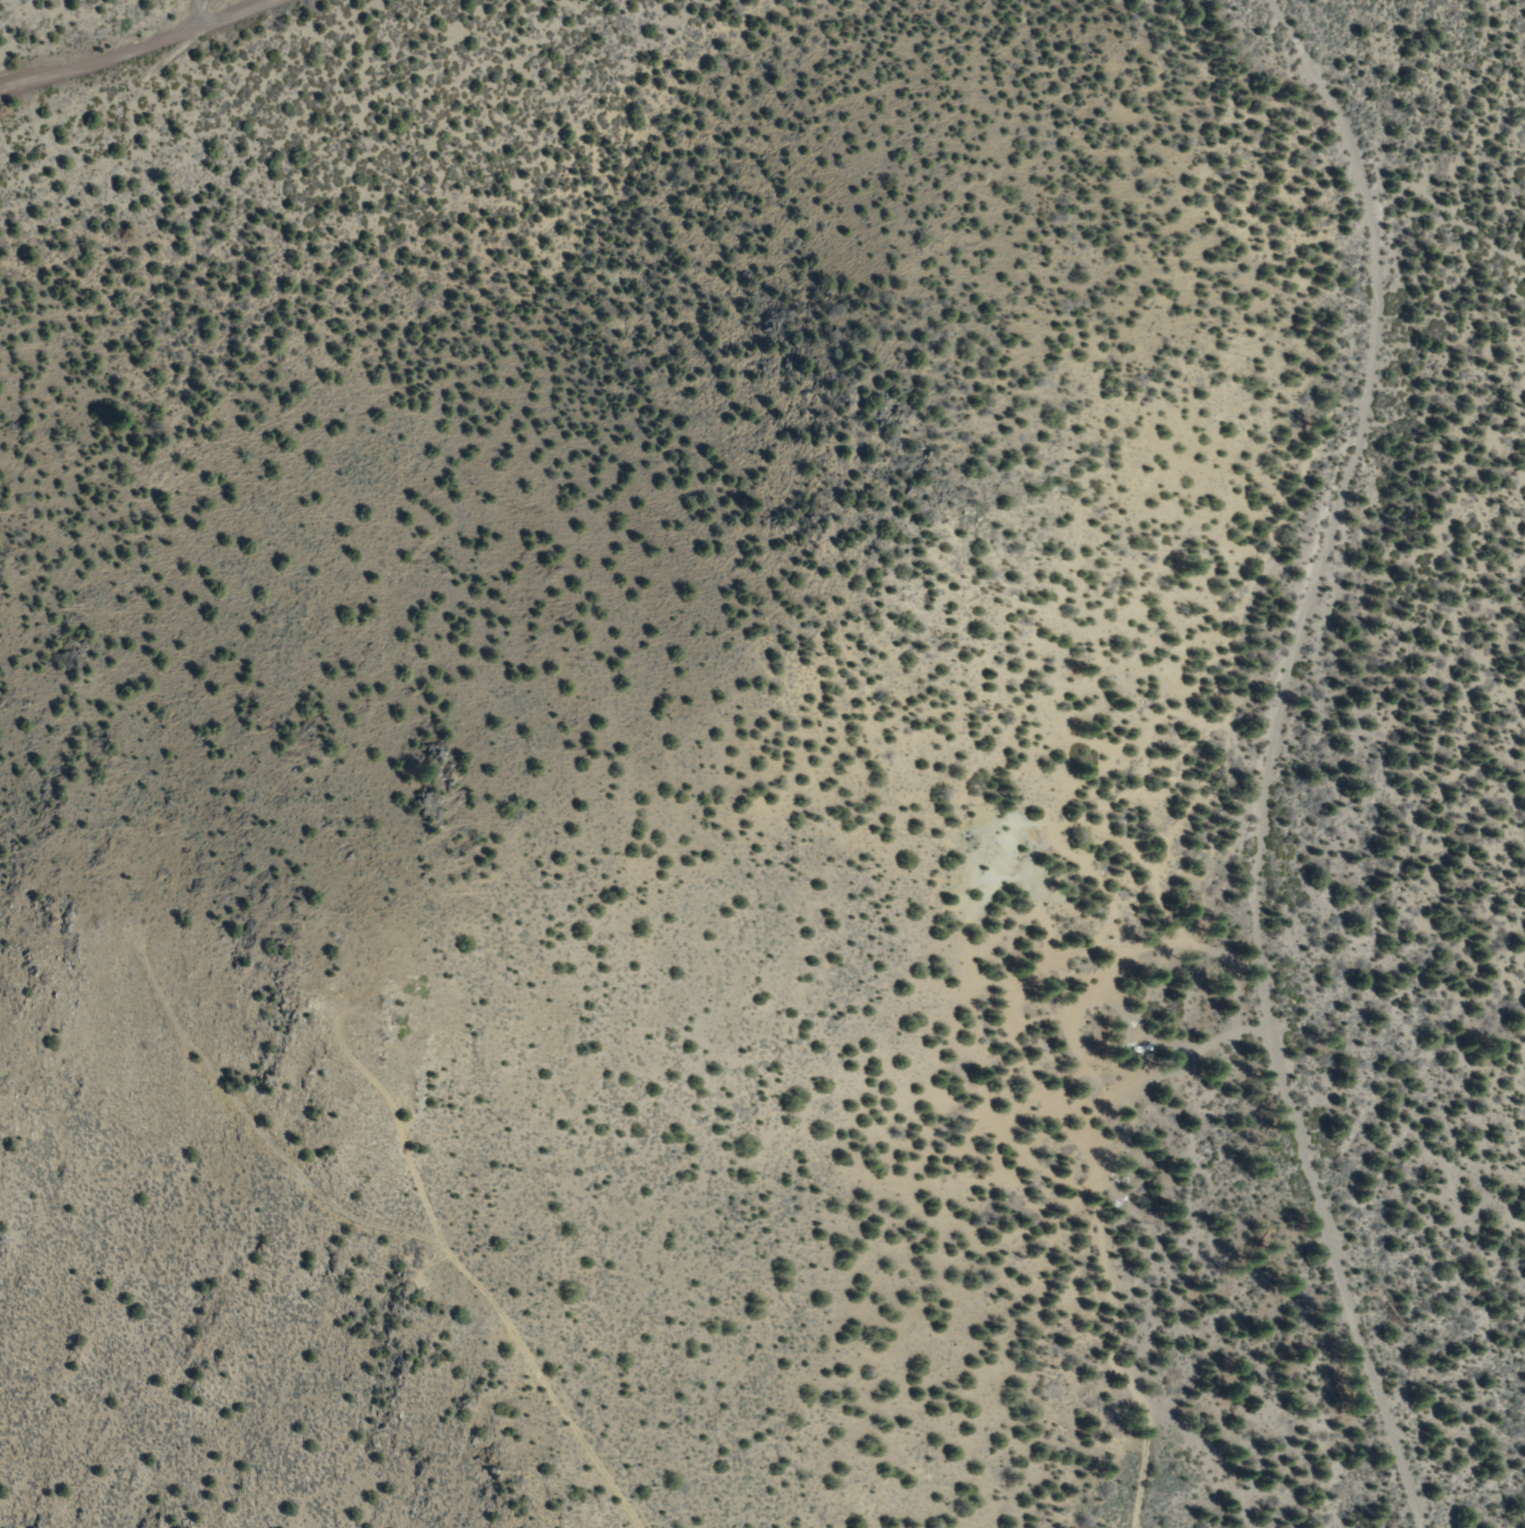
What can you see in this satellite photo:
road: (196, 13)
road: (134, 46)
road: (201, 129)
road: (1269, 757)
road: (1097, 1232)
road: (415, 1235)

